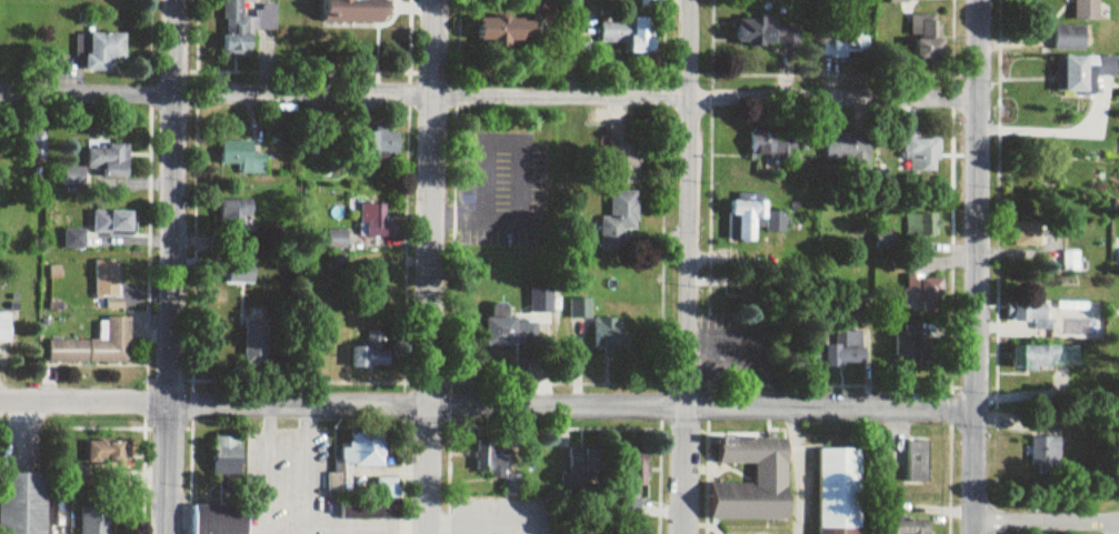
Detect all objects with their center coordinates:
building: (547, 8)
building: (1085, 9)
building: (353, 10)
building: (244, 26)
building: (500, 32)
building: (629, 33)
building: (765, 33)
building: (1070, 34)
building: (926, 38)
building: (843, 46)
building: (101, 50)
building: (1083, 68)
road: (218, 93)
road: (706, 101)
building: (382, 144)
building: (772, 144)
building: (37, 148)
building: (847, 149)
building: (921, 153)
building: (242, 157)
building: (99, 162)
building: (623, 163)
building: (236, 212)
building: (746, 219)
building: (776, 220)
building: (619, 221)
building: (112, 222)
building: (376, 223)
building: (922, 225)
building: (1026, 231)
building: (885, 239)
building: (337, 240)
building: (1068, 262)
road: (170, 266)
road: (430, 266)
road: (688, 266)
road: (977, 266)
building: (240, 271)
building: (107, 282)
building: (922, 290)
building: (1086, 313)
building: (1029, 314)
building: (4, 329)
building: (510, 332)
building: (609, 335)
building: (254, 342)
building: (97, 346)
building: (840, 349)
building: (371, 351)
building: (921, 353)
building: (1045, 357)
road: (572, 383)
road: (212, 399)
road: (700, 405)
road: (168, 429)
road: (532, 429)
building: (102, 446)
building: (1045, 449)
building: (228, 454)
building: (491, 455)
road: (191, 456)
road: (404, 457)
road: (449, 457)
road: (660, 459)
road: (707, 459)
road: (951, 460)
building: (352, 461)
building: (917, 462)
road: (270, 466)
road: (308, 466)
building: (579, 467)
building: (636, 472)
building: (769, 472)
road: (143, 481)
building: (516, 482)
building: (837, 490)
building: (22, 503)
parking lot: (494, 516)
building: (219, 518)
building: (94, 520)
road: (1045, 520)
road: (1117, 522)
road: (487, 524)
building: (908, 526)
road: (1116, 527)

